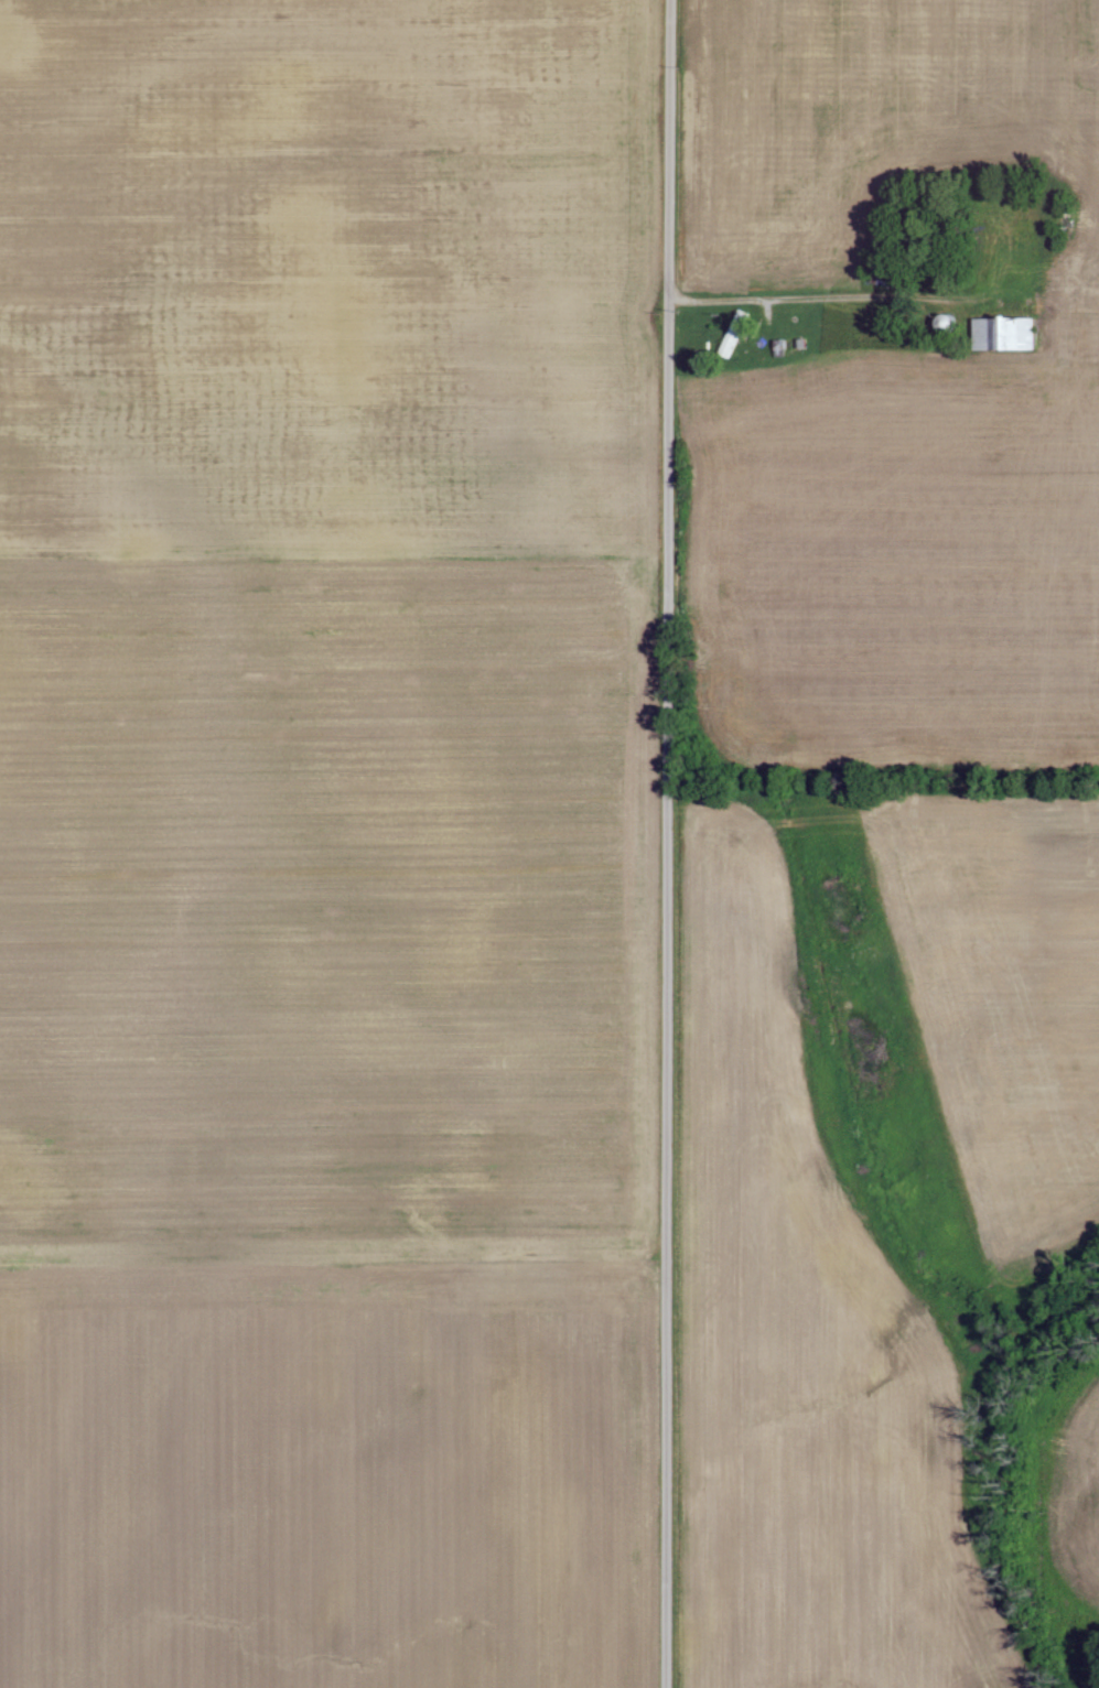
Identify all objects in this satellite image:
building: (1001, 336)
building: (726, 347)
road: (670, 843)

